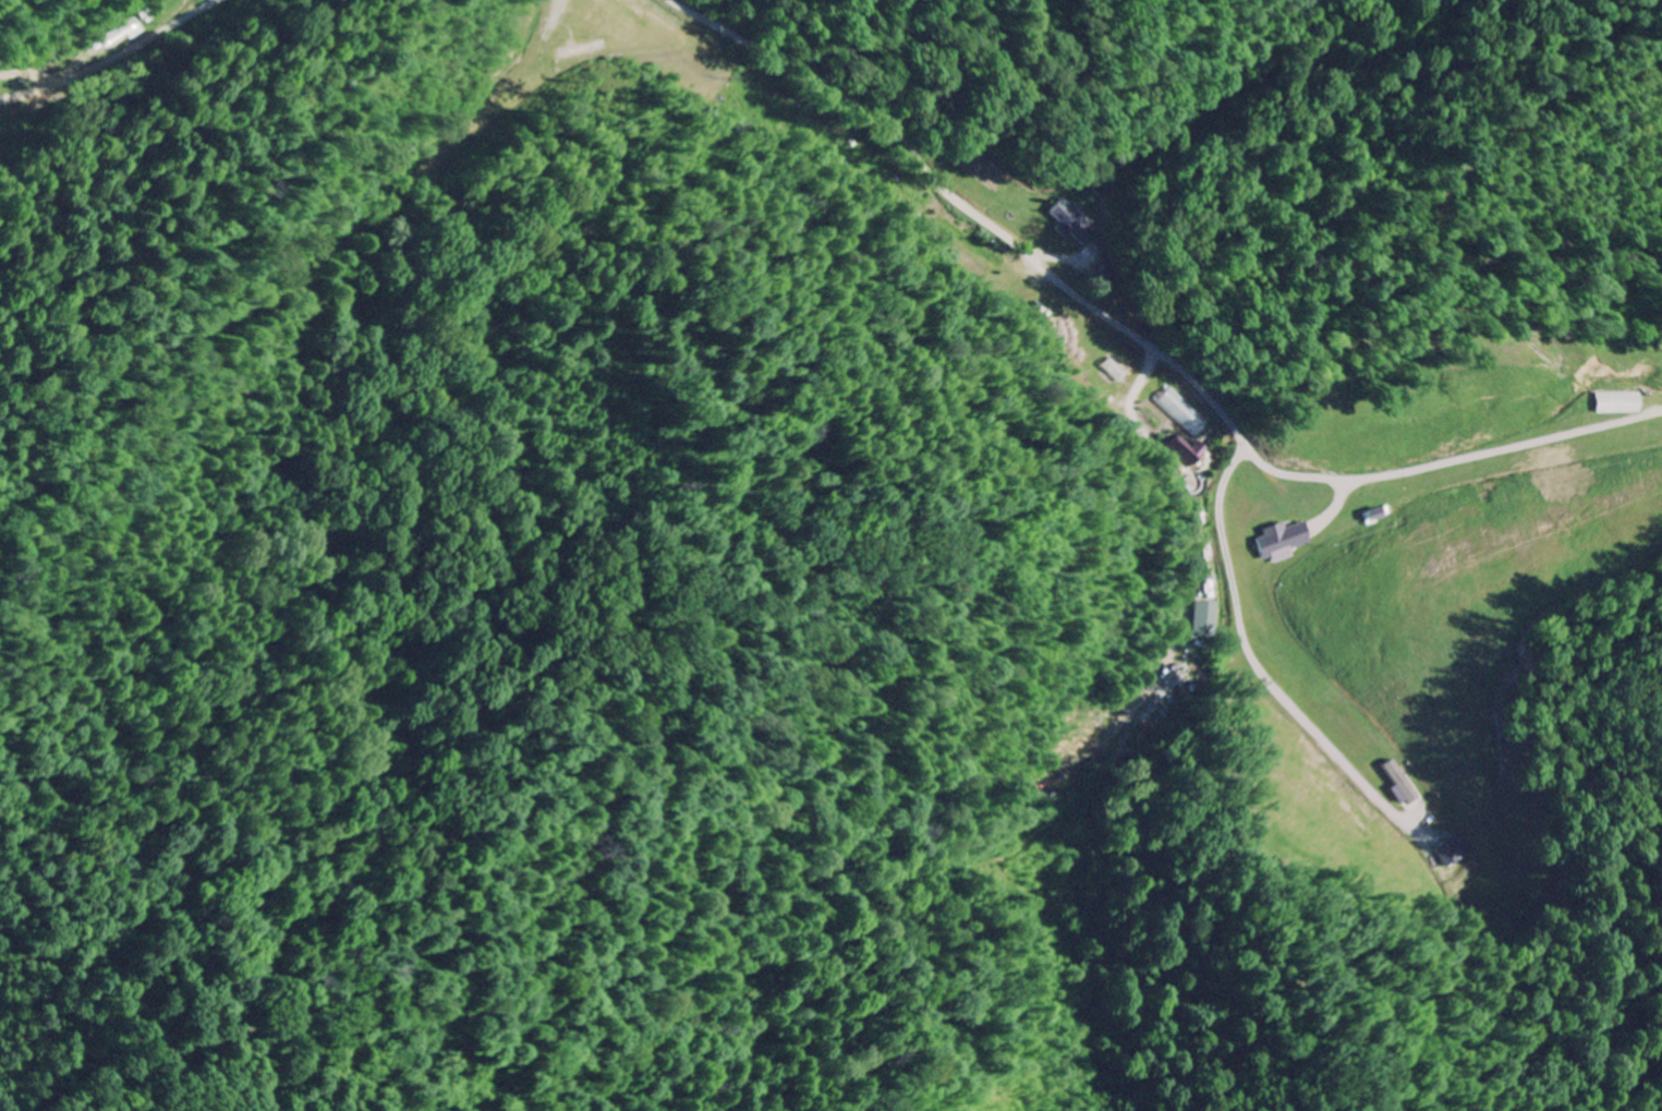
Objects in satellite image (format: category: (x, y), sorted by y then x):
building: (584, 50)
road: (123, 58)
road: (875, 93)
building: (1075, 224)
building: (1621, 404)
building: (1186, 413)
building: (1190, 452)
building: (1285, 543)
building: (1204, 620)
building: (1458, 852)

